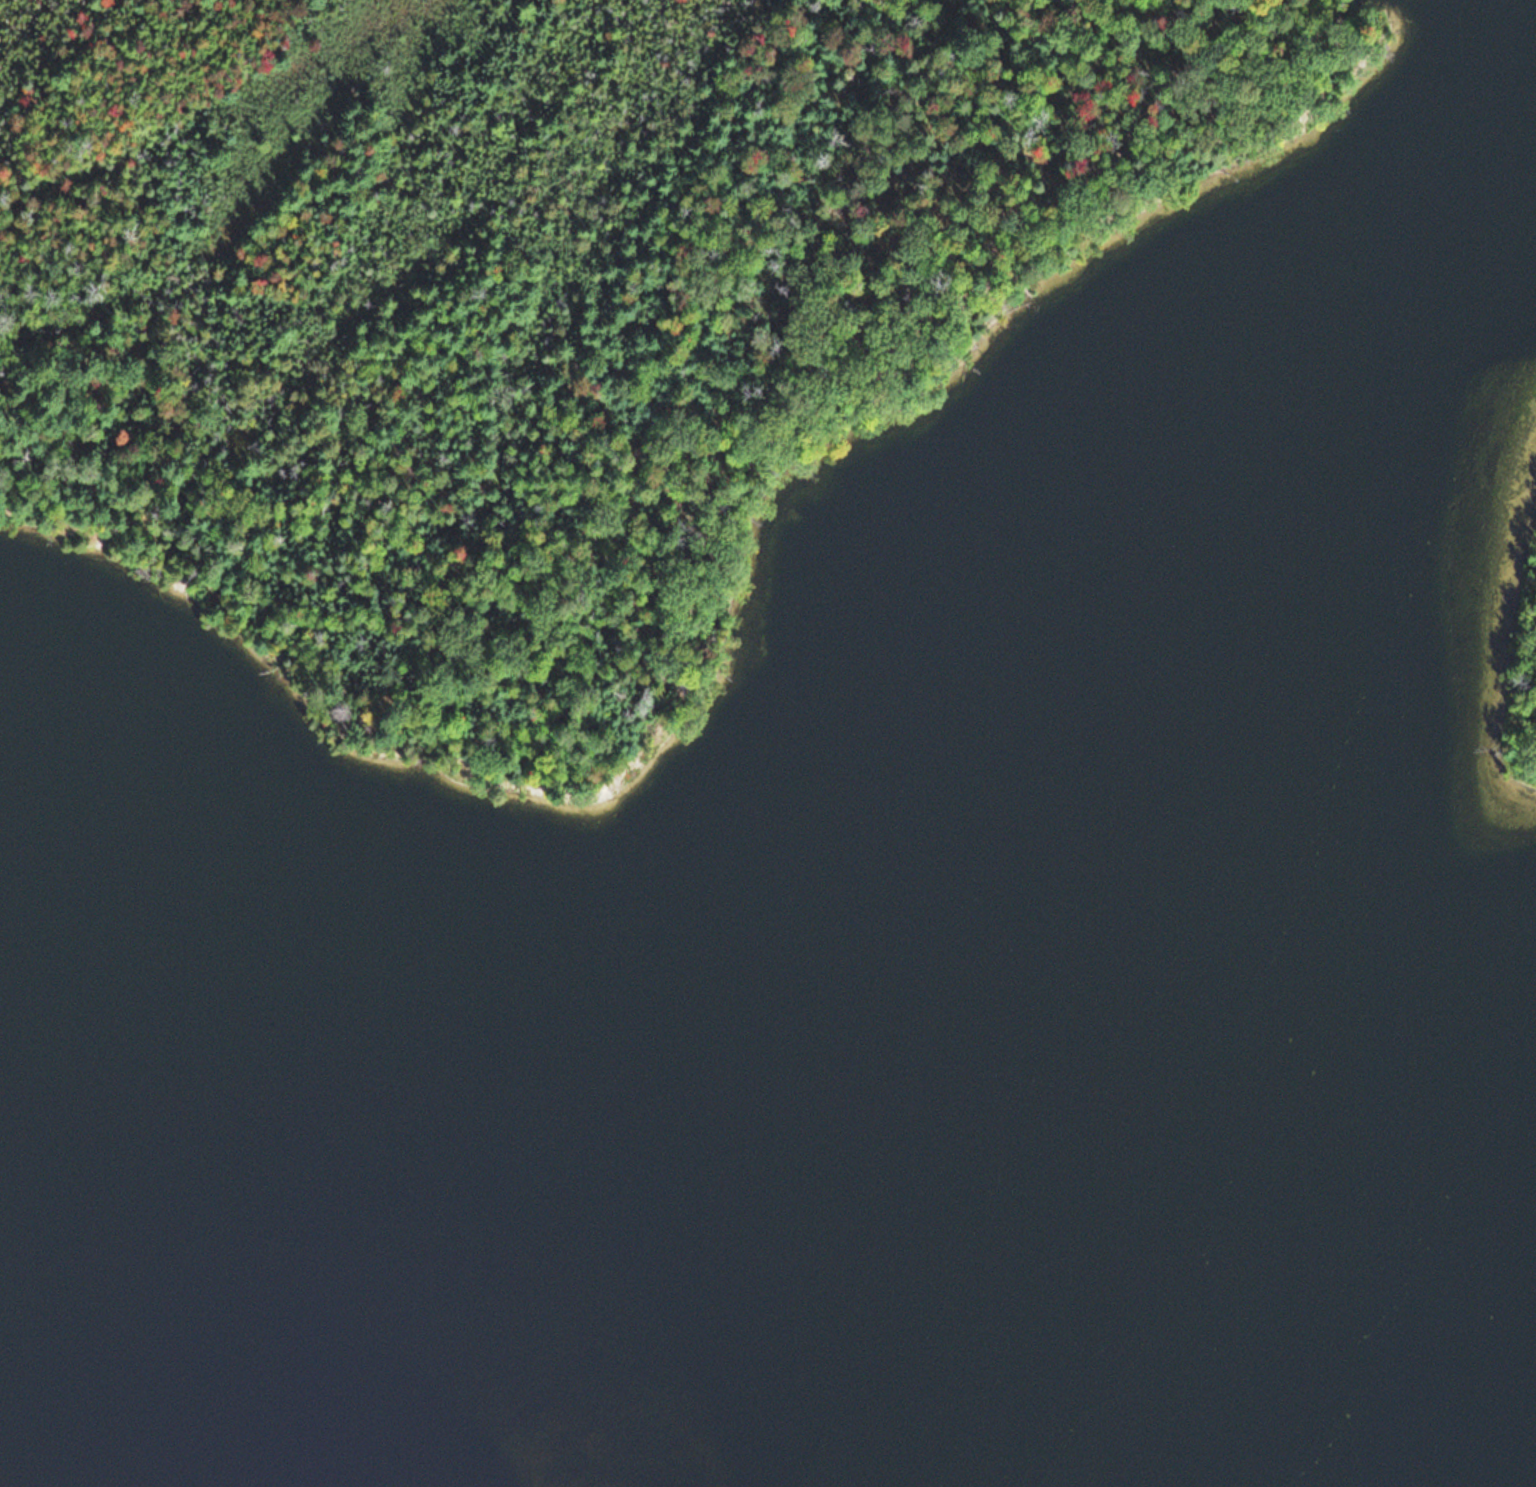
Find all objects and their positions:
building: (1159, 226)
river: (1096, 772)

